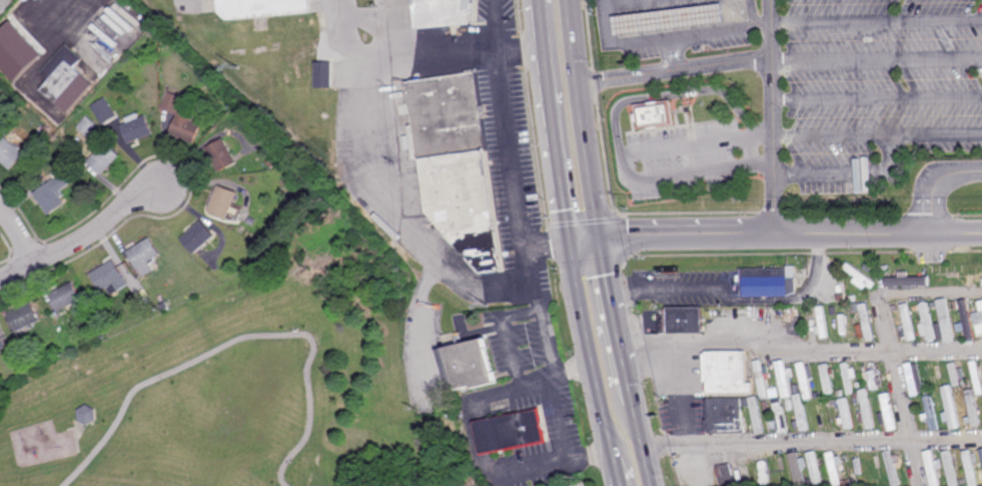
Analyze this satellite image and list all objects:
building: (207, 7)
building: (214, 7)
building: (261, 8)
building: (444, 13)
road: (739, 13)
road: (393, 19)
building: (667, 19)
gas station: (667, 19)
road: (877, 21)
road: (369, 26)
road: (721, 30)
road: (356, 37)
road: (672, 46)
building: (698, 49)
building: (19, 51)
road: (451, 54)
road: (877, 58)
road: (724, 64)
power tower: (232, 66)
building: (323, 74)
building: (66, 78)
road: (773, 88)
road: (672, 96)
road: (877, 97)
building: (104, 112)
building: (653, 116)
road: (552, 118)
road: (586, 118)
building: (181, 119)
building: (88, 126)
building: (47, 128)
building: (136, 129)
road: (764, 133)
road: (936, 136)
road: (832, 137)
road: (688, 145)
building: (9, 154)
building: (101, 155)
building: (221, 155)
building: (270, 162)
building: (456, 164)
road: (688, 173)
road: (849, 176)
road: (380, 178)
road: (934, 183)
building: (53, 194)
building: (223, 202)
road: (775, 205)
road: (524, 232)
road: (19, 233)
road: (776, 234)
traffic signals: (571, 236)
traffic signals: (601, 236)
road: (83, 237)
building: (198, 238)
building: (145, 255)
building: (867, 267)
building: (919, 271)
building: (858, 275)
building: (111, 277)
building: (906, 279)
building: (768, 280)
building: (932, 280)
building: (66, 295)
road: (930, 295)
building: (852, 297)
road: (737, 299)
road: (610, 300)
building: (955, 304)
building: (164, 305)
building: (980, 305)
power tower: (485, 306)
building: (856, 306)
building: (932, 306)
building: (915, 308)
building: (807, 309)
building: (896, 309)
building: (24, 316)
building: (976, 317)
building: (683, 318)
building: (946, 319)
building: (966, 319)
building: (821, 321)
road: (416, 322)
building: (907, 322)
building: (865, 323)
building: (926, 323)
building: (845, 324)
building: (979, 327)
building: (100, 333)
road: (238, 340)
building: (2, 341)
road: (590, 344)
road: (800, 350)
building: (470, 363)
park: (253, 369)
road: (575, 370)
building: (726, 371)
building: (21, 373)
building: (954, 374)
building: (784, 376)
building: (827, 377)
building: (848, 377)
building: (976, 377)
building: (761, 378)
building: (806, 381)
building: (914, 381)
road: (628, 384)
building: (859, 384)
building: (796, 388)
building: (773, 390)
road: (900, 391)
building: (841, 393)
building: (873, 394)
road: (681, 395)
building: (835, 402)
building: (745, 403)
building: (766, 404)
building: (950, 407)
building: (866, 409)
building: (886, 409)
building: (972, 409)
building: (801, 412)
building: (823, 413)
building: (931, 413)
building: (756, 414)
building: (845, 414)
building: (724, 415)
building: (85, 416)
building: (778, 416)
road: (472, 425)
building: (511, 430)
road: (811, 442)
road: (641, 444)
road: (77, 447)
building: (981, 451)
road: (615, 463)
building: (893, 466)
building: (971, 466)
building: (872, 467)
building: (933, 467)
building: (815, 468)
building: (834, 468)
building: (950, 468)
building: (797, 469)
building: (843, 470)
road: (46, 471)
building: (764, 472)
building: (733, 474)
road: (618, 480)
building: (810, 482)

